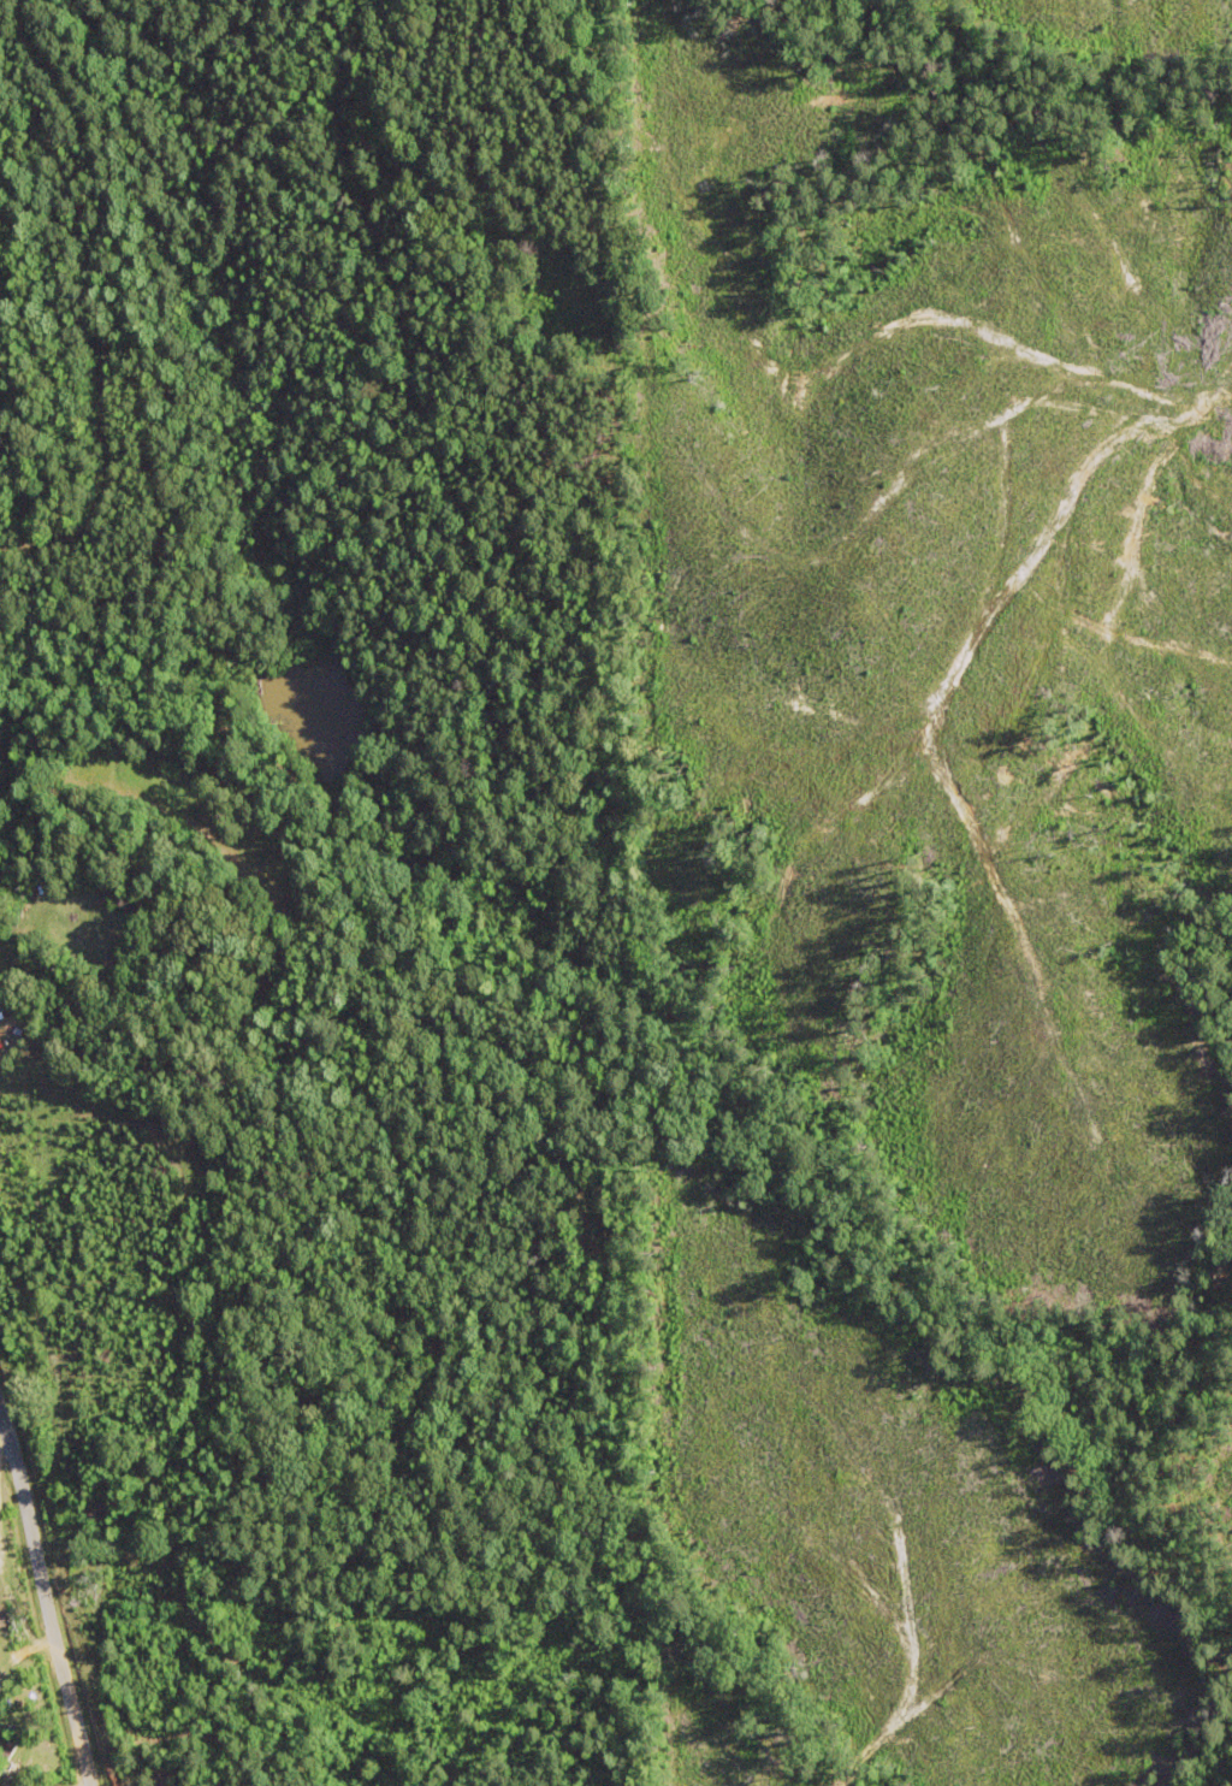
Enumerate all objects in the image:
road: (83, 1504)

